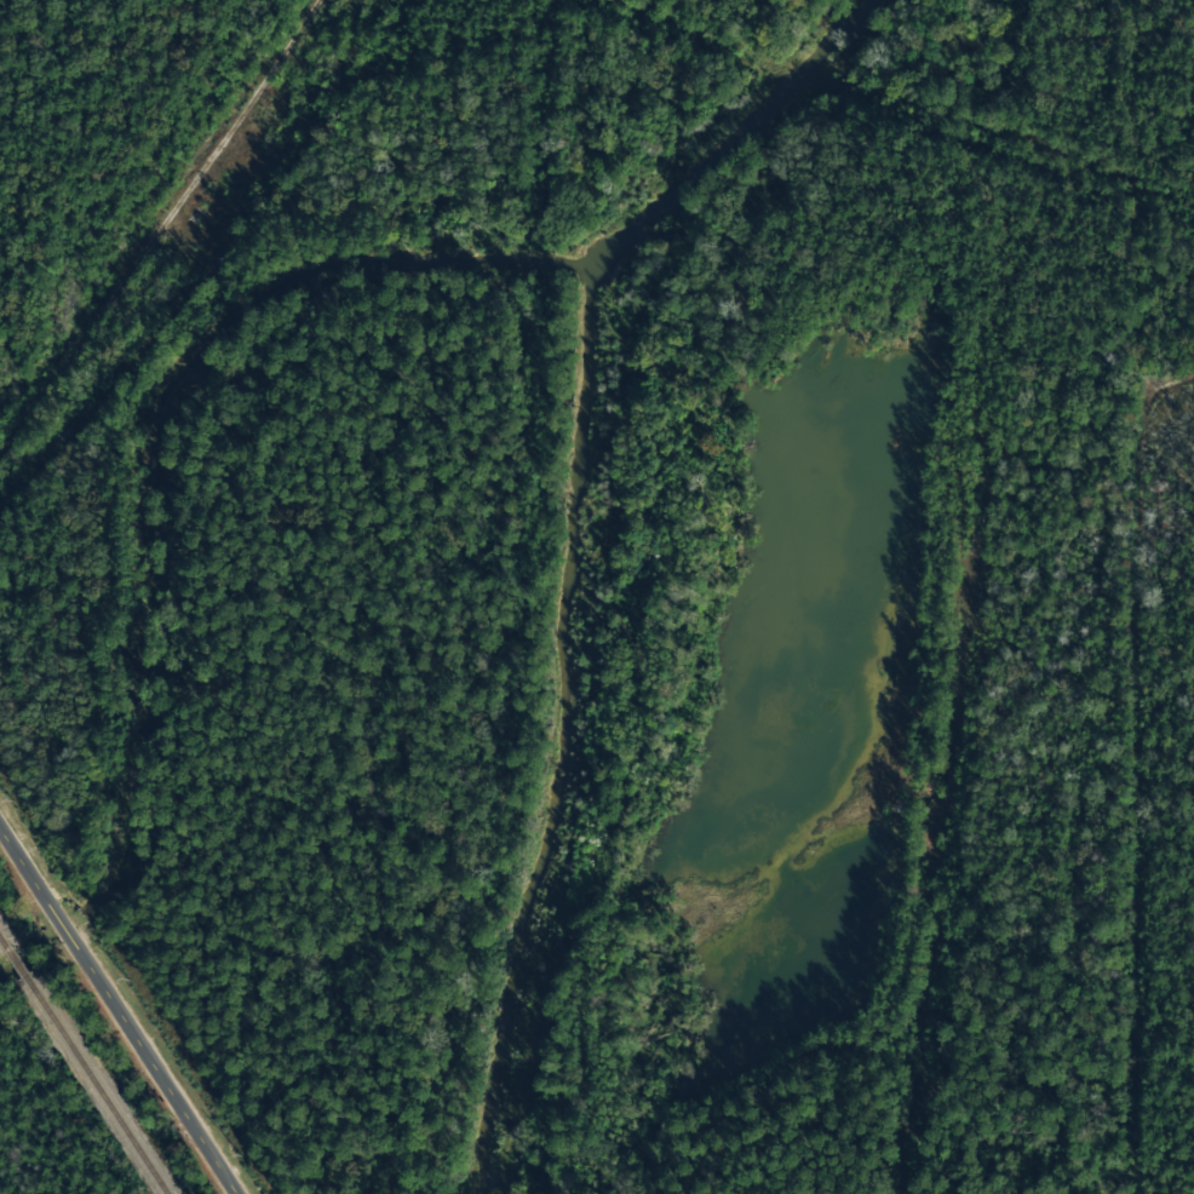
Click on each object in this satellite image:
road: (21, 857)
road: (65, 929)
railway: (0, 938)
railway: (16, 961)
road: (161, 1080)
railway: (98, 1089)

